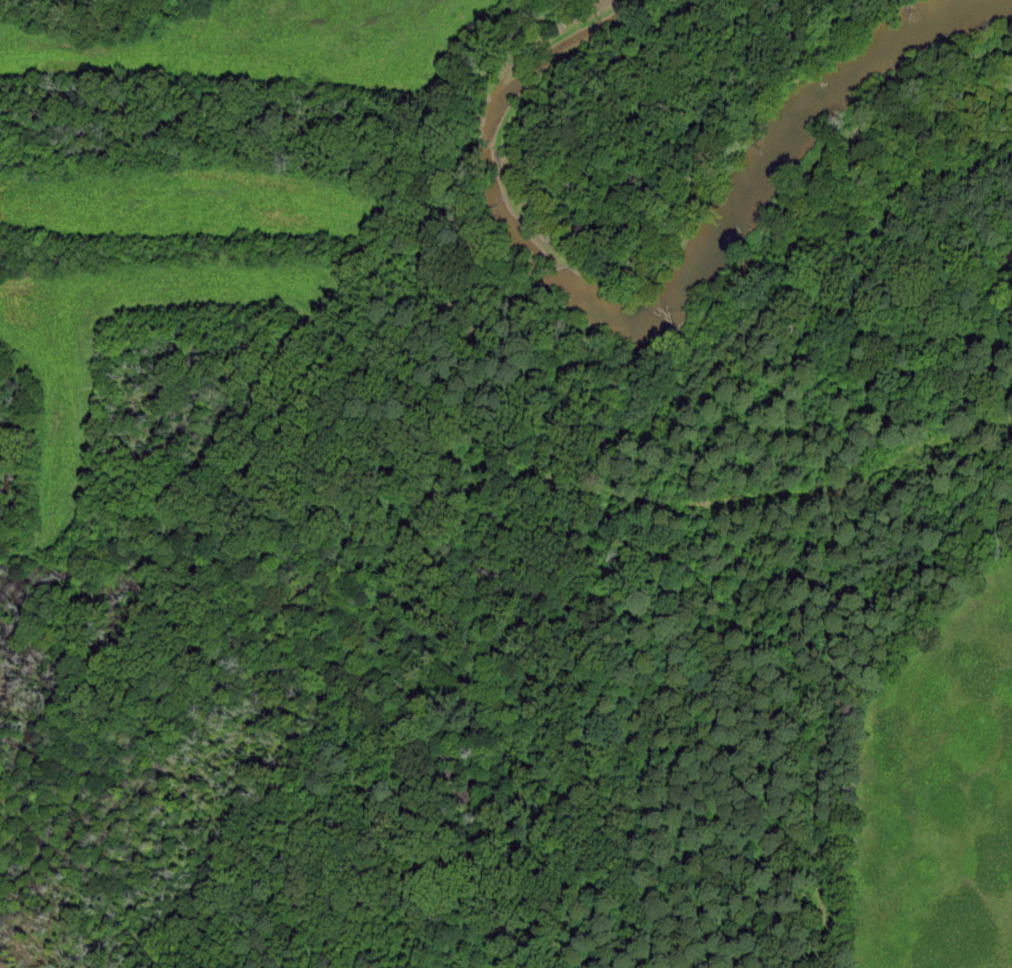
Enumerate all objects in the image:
road: (533, 472)
road: (192, 486)
road: (838, 687)

